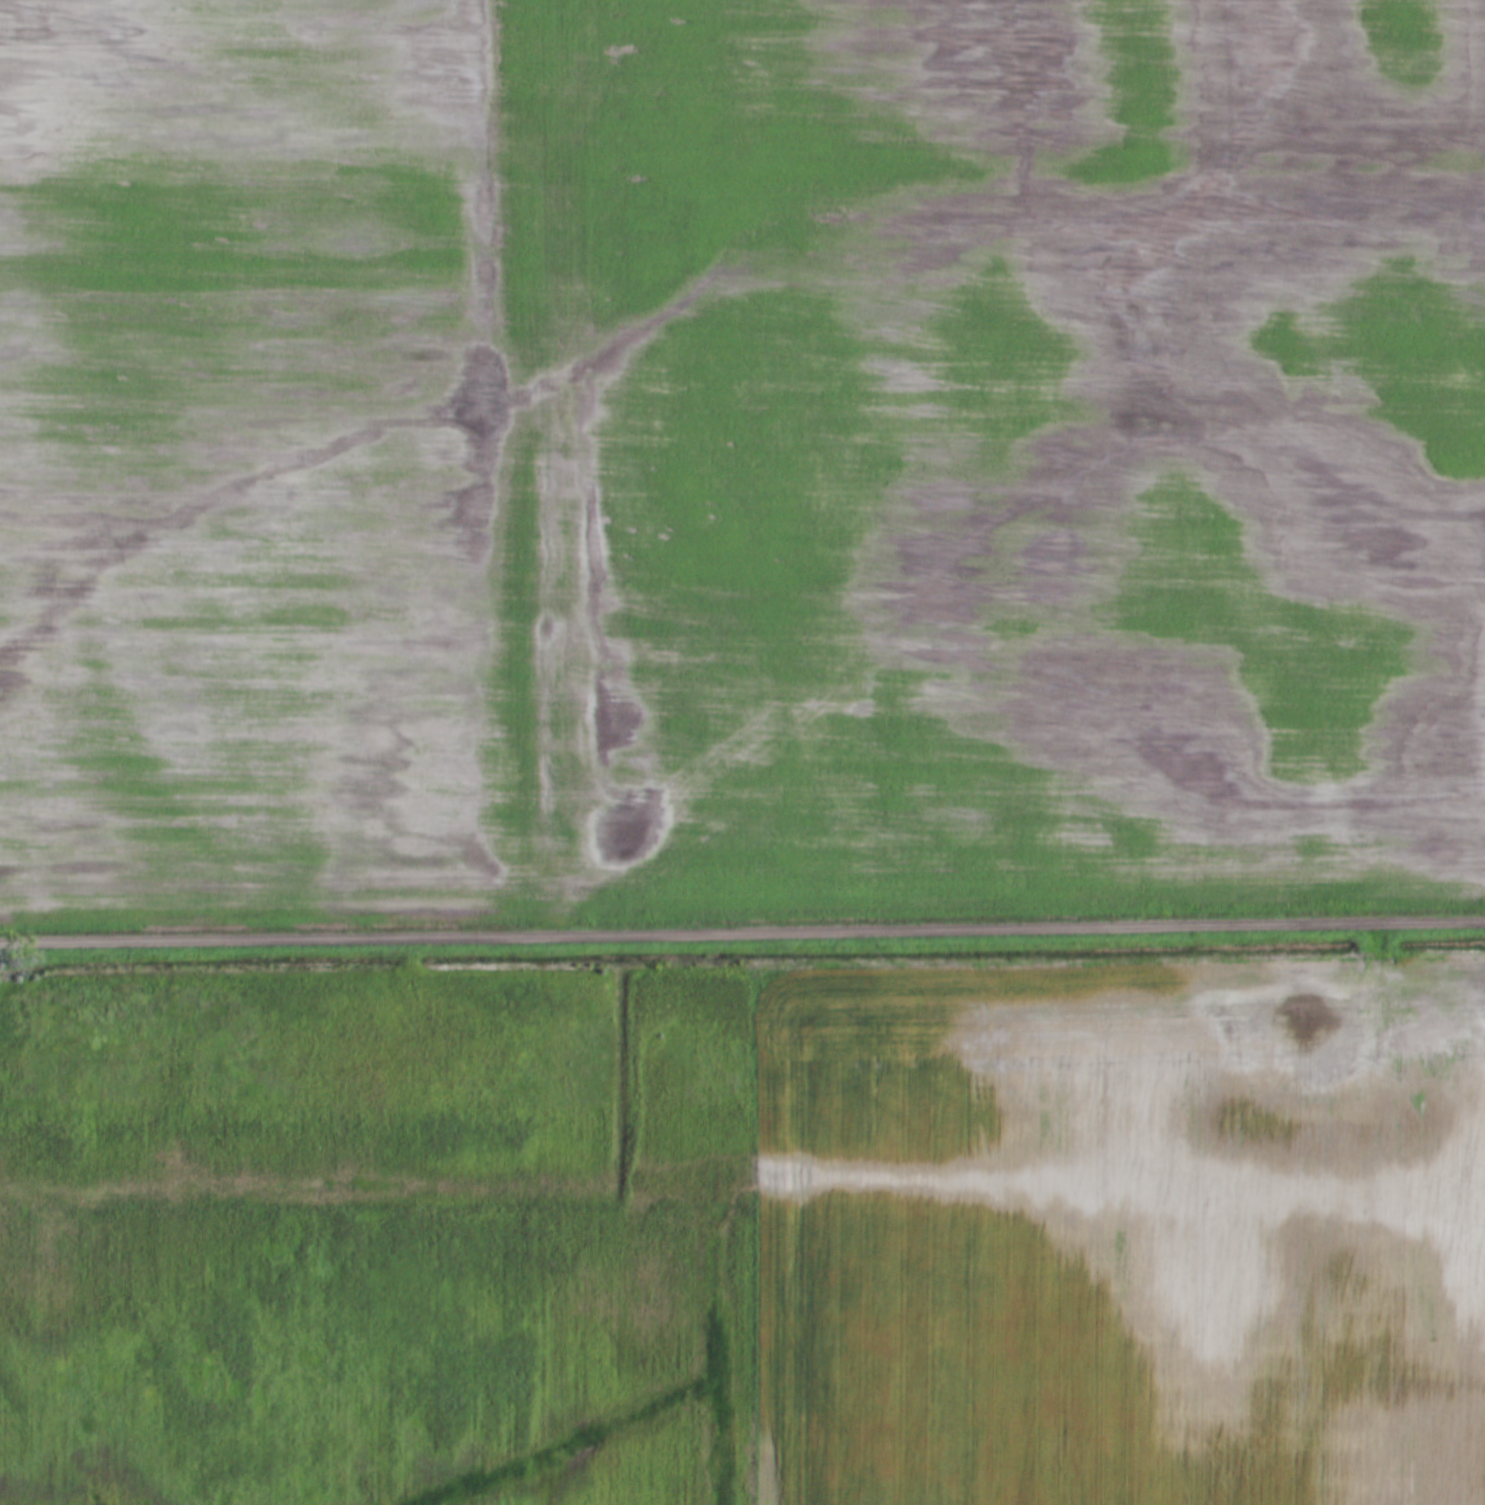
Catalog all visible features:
road: (742, 934)

